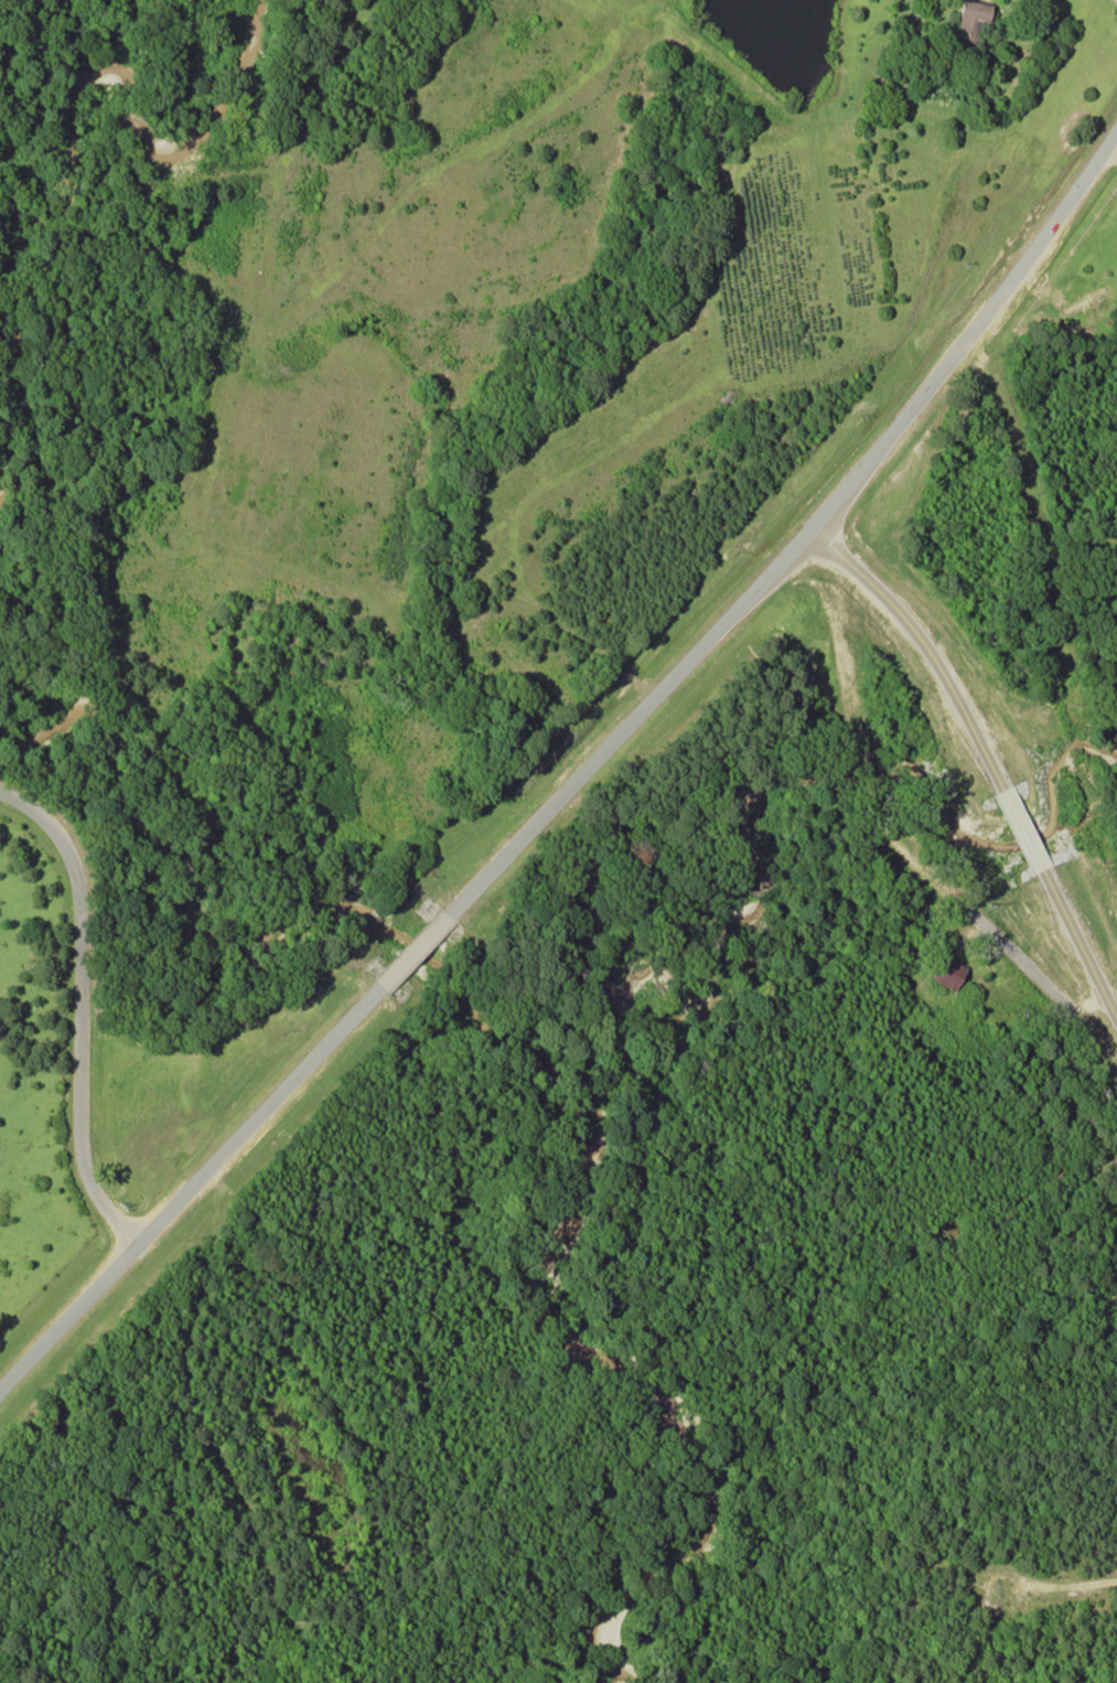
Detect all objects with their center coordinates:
building: (971, 10)
road: (802, 547)
road: (926, 647)
road: (1022, 829)
road: (1080, 942)
road: (415, 954)
building: (944, 971)
road: (82, 1010)
road: (191, 1191)

